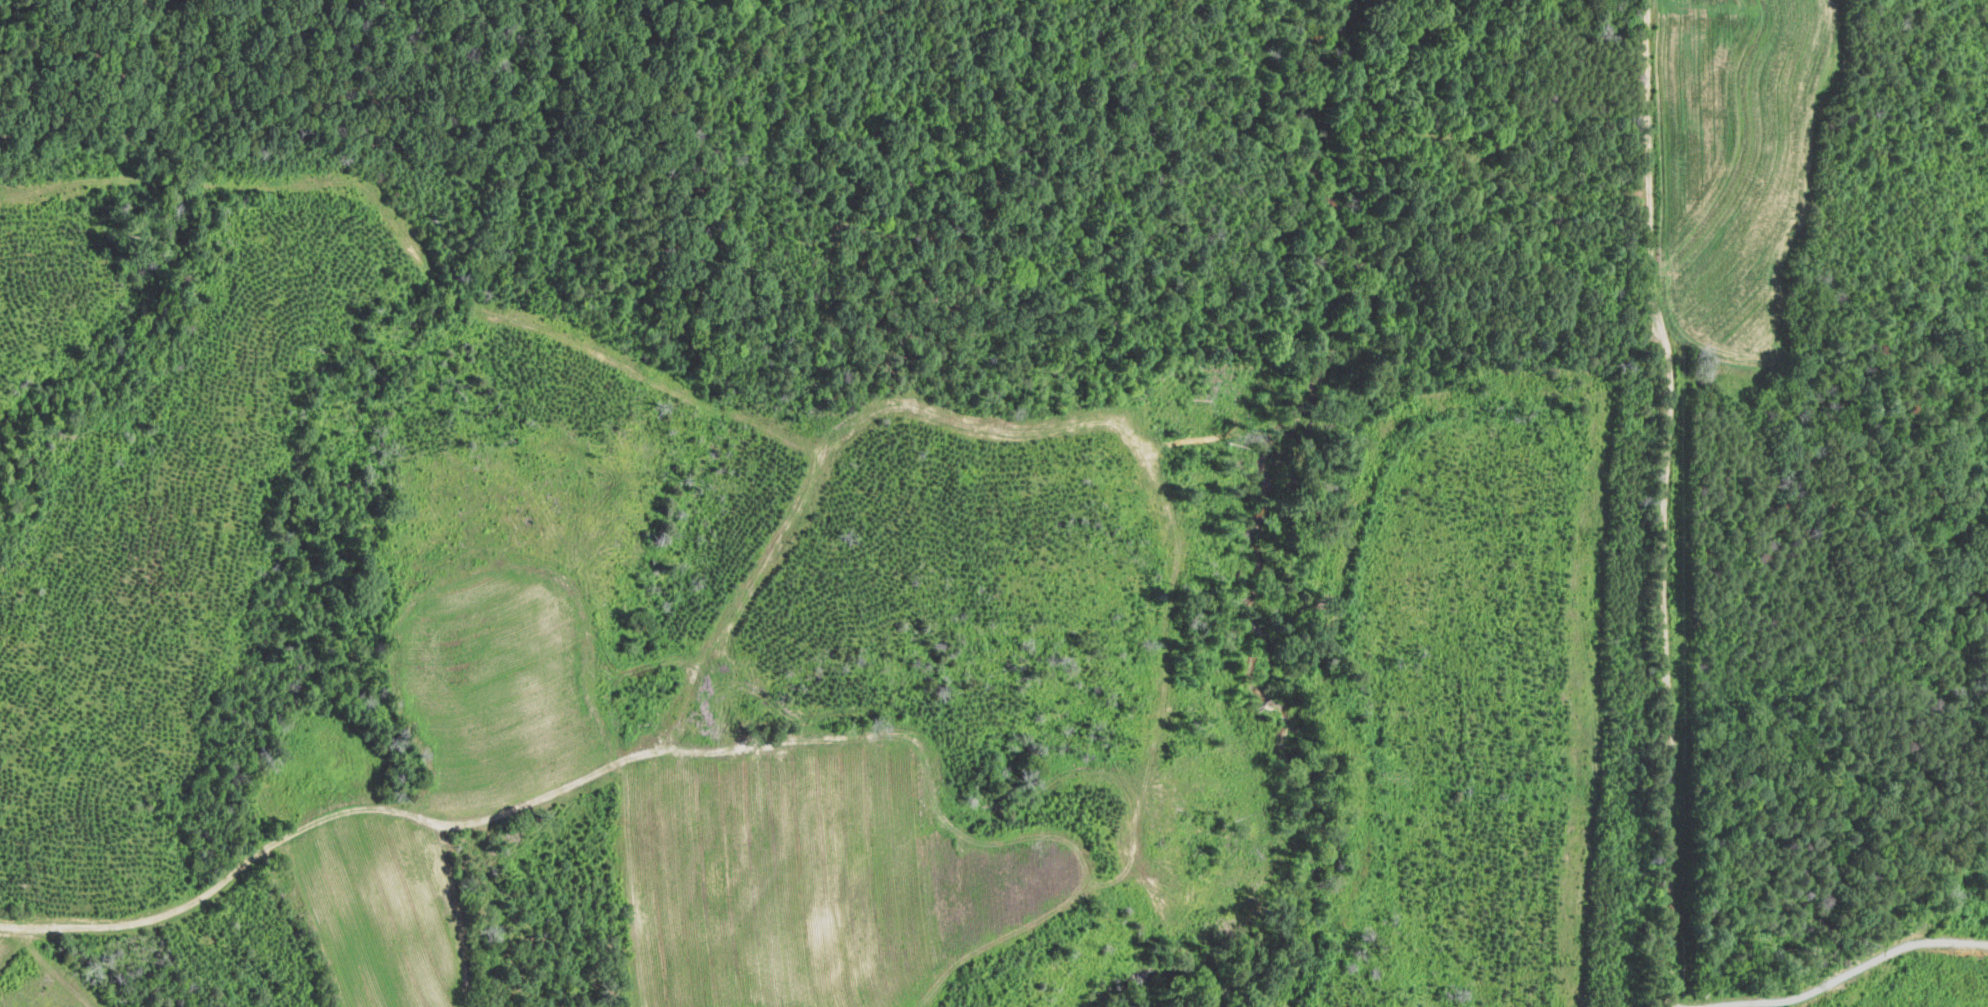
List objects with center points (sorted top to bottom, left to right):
road: (1671, 502)
road: (1845, 975)

